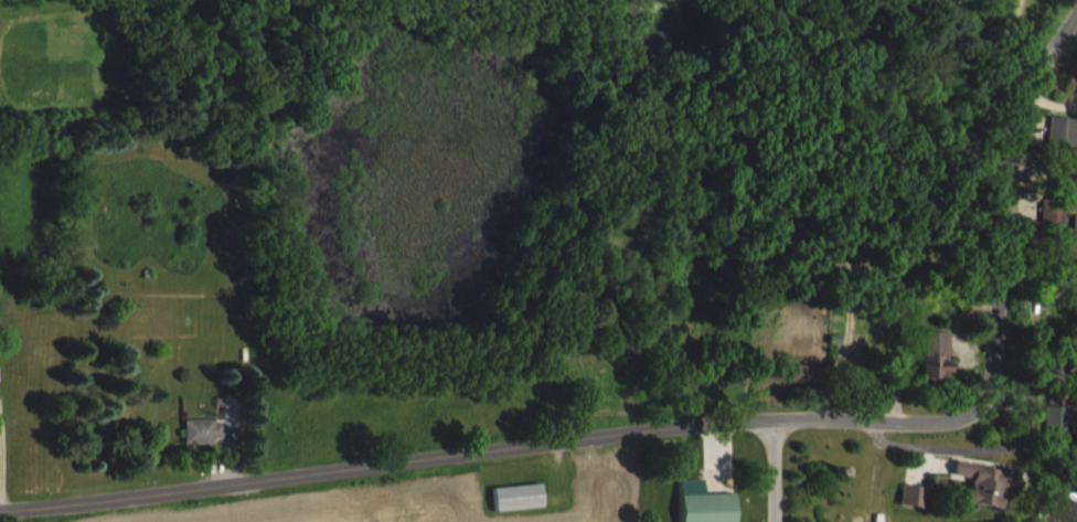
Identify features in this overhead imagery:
building: (1063, 131)
building: (1055, 204)
building: (940, 353)
road: (1028, 391)
building: (1058, 414)
road: (695, 427)
building: (201, 429)
road: (770, 471)
building: (988, 481)
building: (1071, 492)
building: (515, 497)
building: (707, 508)

